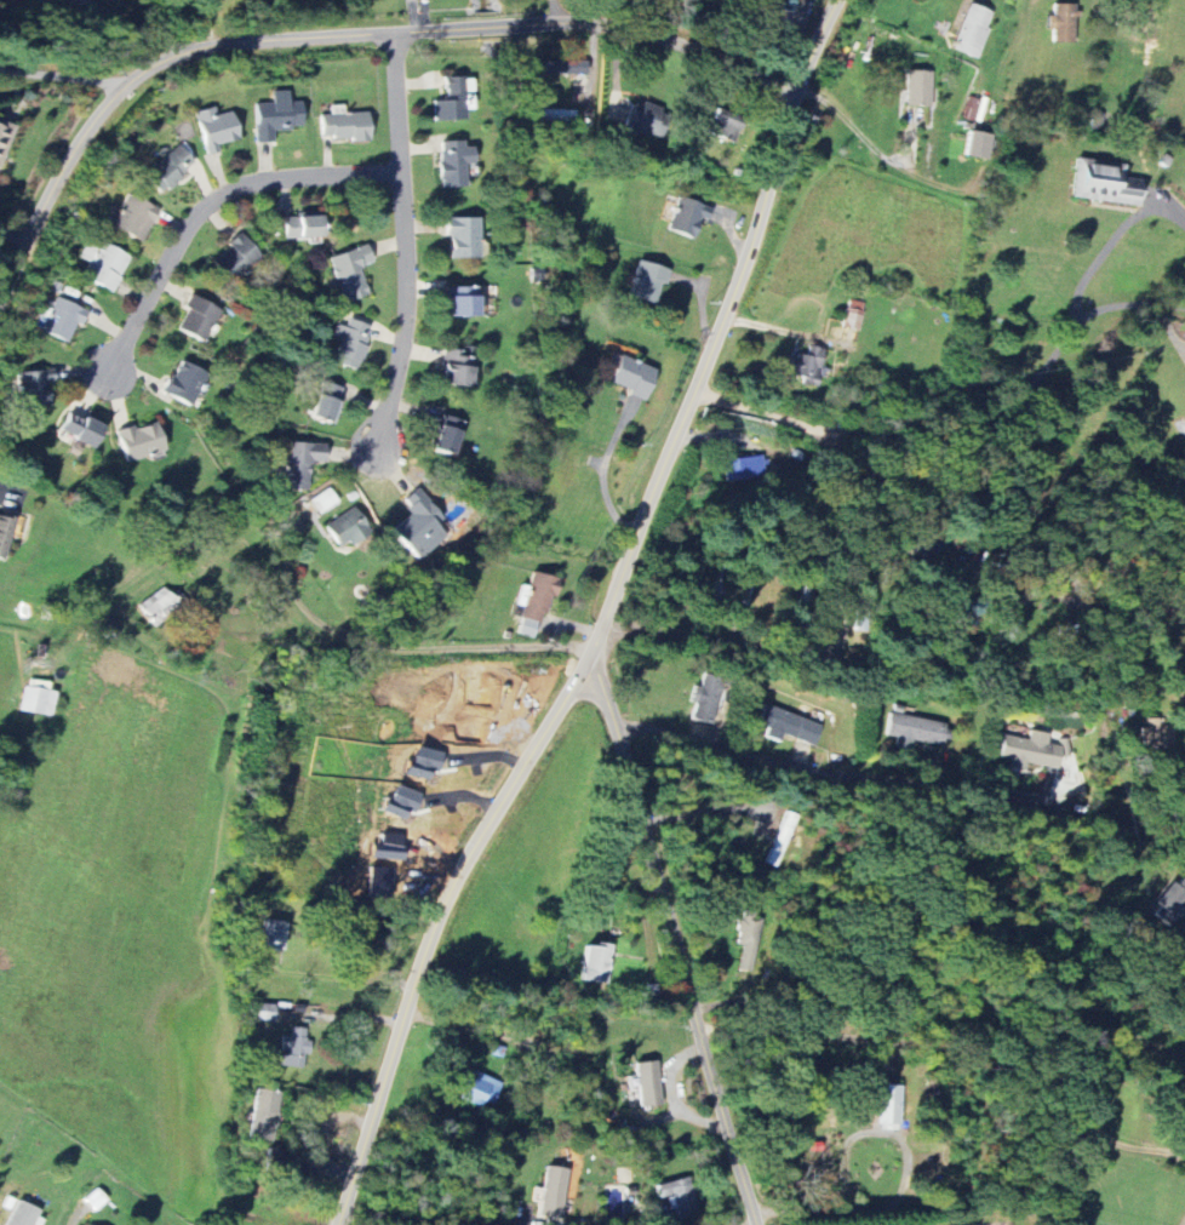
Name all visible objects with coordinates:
building: (778, 4)
road: (411, 13)
building: (1063, 23)
road: (177, 24)
road: (133, 25)
building: (974, 30)
road: (336, 32)
building: (550, 68)
road: (61, 74)
building: (918, 87)
building: (452, 101)
building: (554, 114)
building: (277, 115)
building: (645, 120)
building: (726, 125)
building: (345, 126)
building: (217, 128)
building: (4, 134)
road: (864, 137)
building: (978, 144)
building: (456, 164)
building: (170, 168)
building: (1105, 183)
road: (210, 202)
building: (136, 217)
building: (687, 217)
building: (303, 225)
building: (464, 236)
road: (406, 241)
road: (1111, 241)
building: (236, 257)
building: (103, 263)
building: (351, 273)
building: (648, 281)
building: (464, 302)
building: (854, 315)
building: (64, 319)
building: (199, 319)
road: (785, 327)
building: (351, 344)
building: (808, 366)
building: (458, 367)
building: (632, 376)
building: (185, 383)
building: (36, 388)
road: (1018, 388)
building: (326, 402)
road: (758, 412)
building: (80, 430)
building: (448, 434)
building: (141, 441)
building: (299, 463)
building: (744, 468)
road: (606, 471)
building: (324, 500)
road: (1032, 516)
building: (419, 525)
building: (348, 528)
building: (5, 536)
road: (1042, 576)
road: (292, 586)
road: (1158, 593)
building: (743, 599)
building: (534, 603)
building: (160, 607)
road: (601, 617)
road: (693, 632)
road: (353, 636)
road: (473, 646)
building: (38, 698)
building: (708, 700)
building: (789, 727)
building: (1157, 733)
building: (1031, 751)
building: (423, 763)
road: (824, 769)
building: (400, 803)
building: (1170, 903)
building: (274, 935)
road: (672, 938)
building: (751, 939)
building: (597, 963)
road: (473, 1029)
road: (912, 1040)
building: (293, 1049)
building: (649, 1083)
building: (481, 1089)
building: (891, 1106)
building: (265, 1115)
road: (1129, 1143)
road: (1078, 1168)
road: (900, 1178)
building: (554, 1192)
building: (679, 1197)
building: (629, 1203)
building: (23, 1214)
road: (434, 1217)
road: (1183, 1221)

